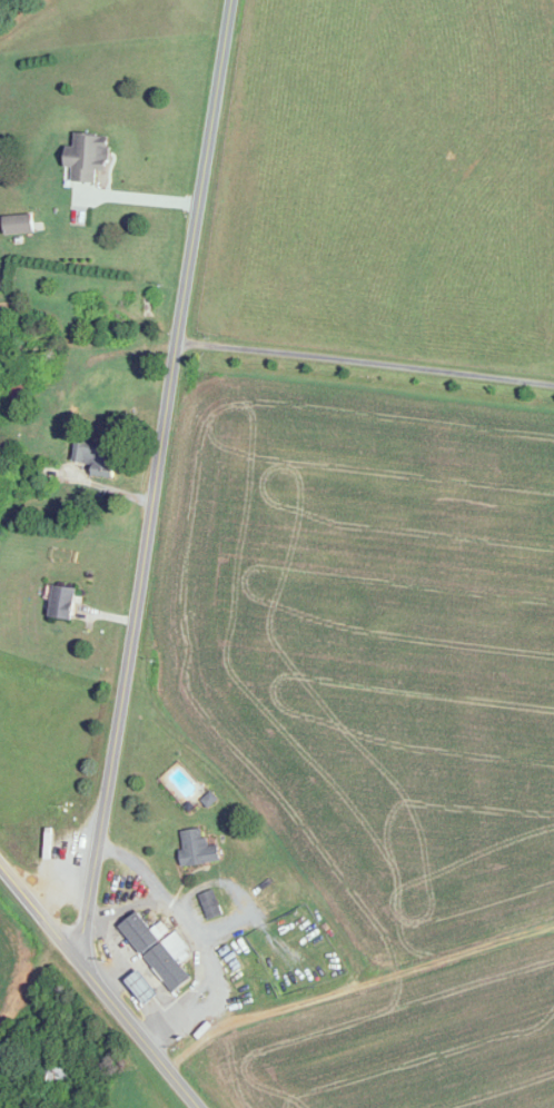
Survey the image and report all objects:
building: (87, 156)
road: (138, 198)
building: (18, 224)
building: (142, 306)
building: (36, 353)
road: (365, 362)
building: (96, 455)
building: (47, 472)
road: (155, 475)
building: (61, 602)
building: (197, 848)
building: (210, 903)
road: (128, 906)
road: (197, 934)
building: (158, 950)
road: (101, 985)
road: (353, 985)
building: (145, 991)
building: (59, 1074)

